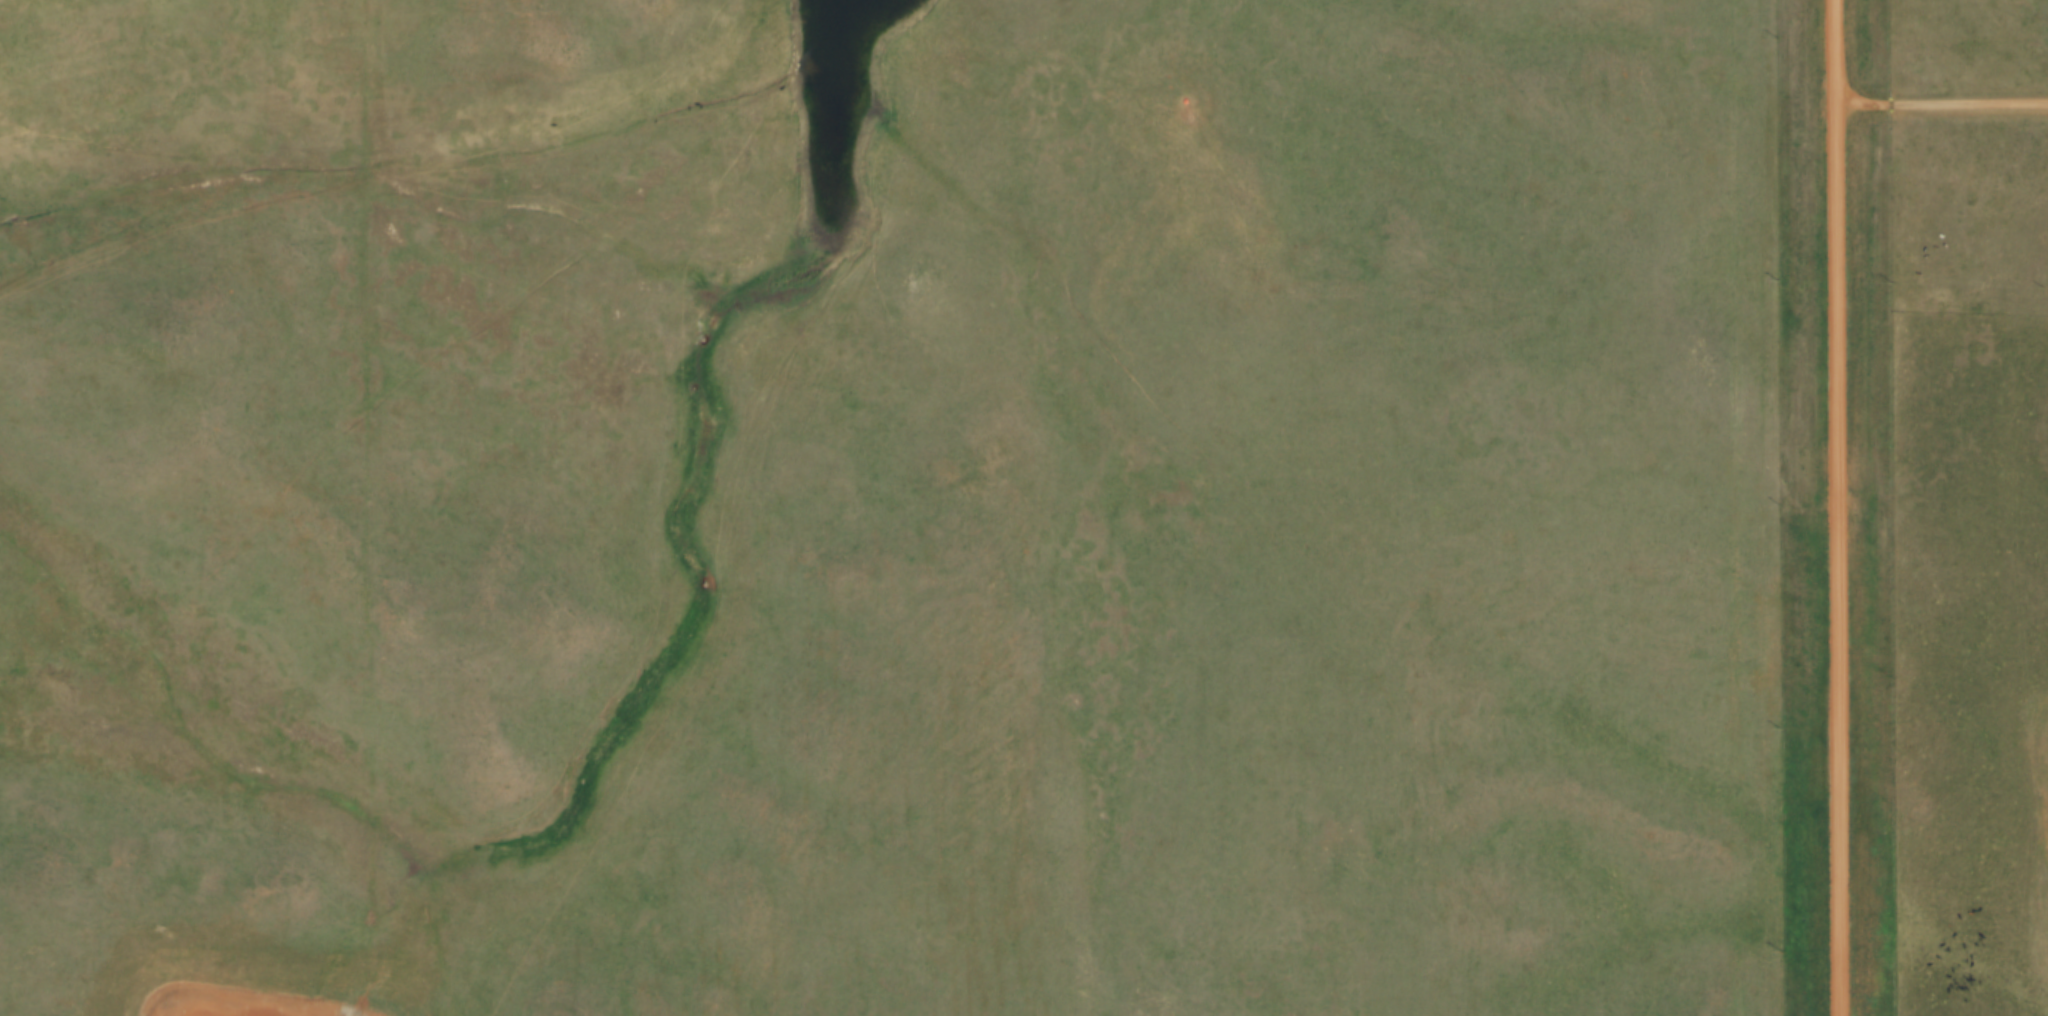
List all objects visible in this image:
road: (1941, 105)
road: (1839, 508)
quarry: (2036, 717)

